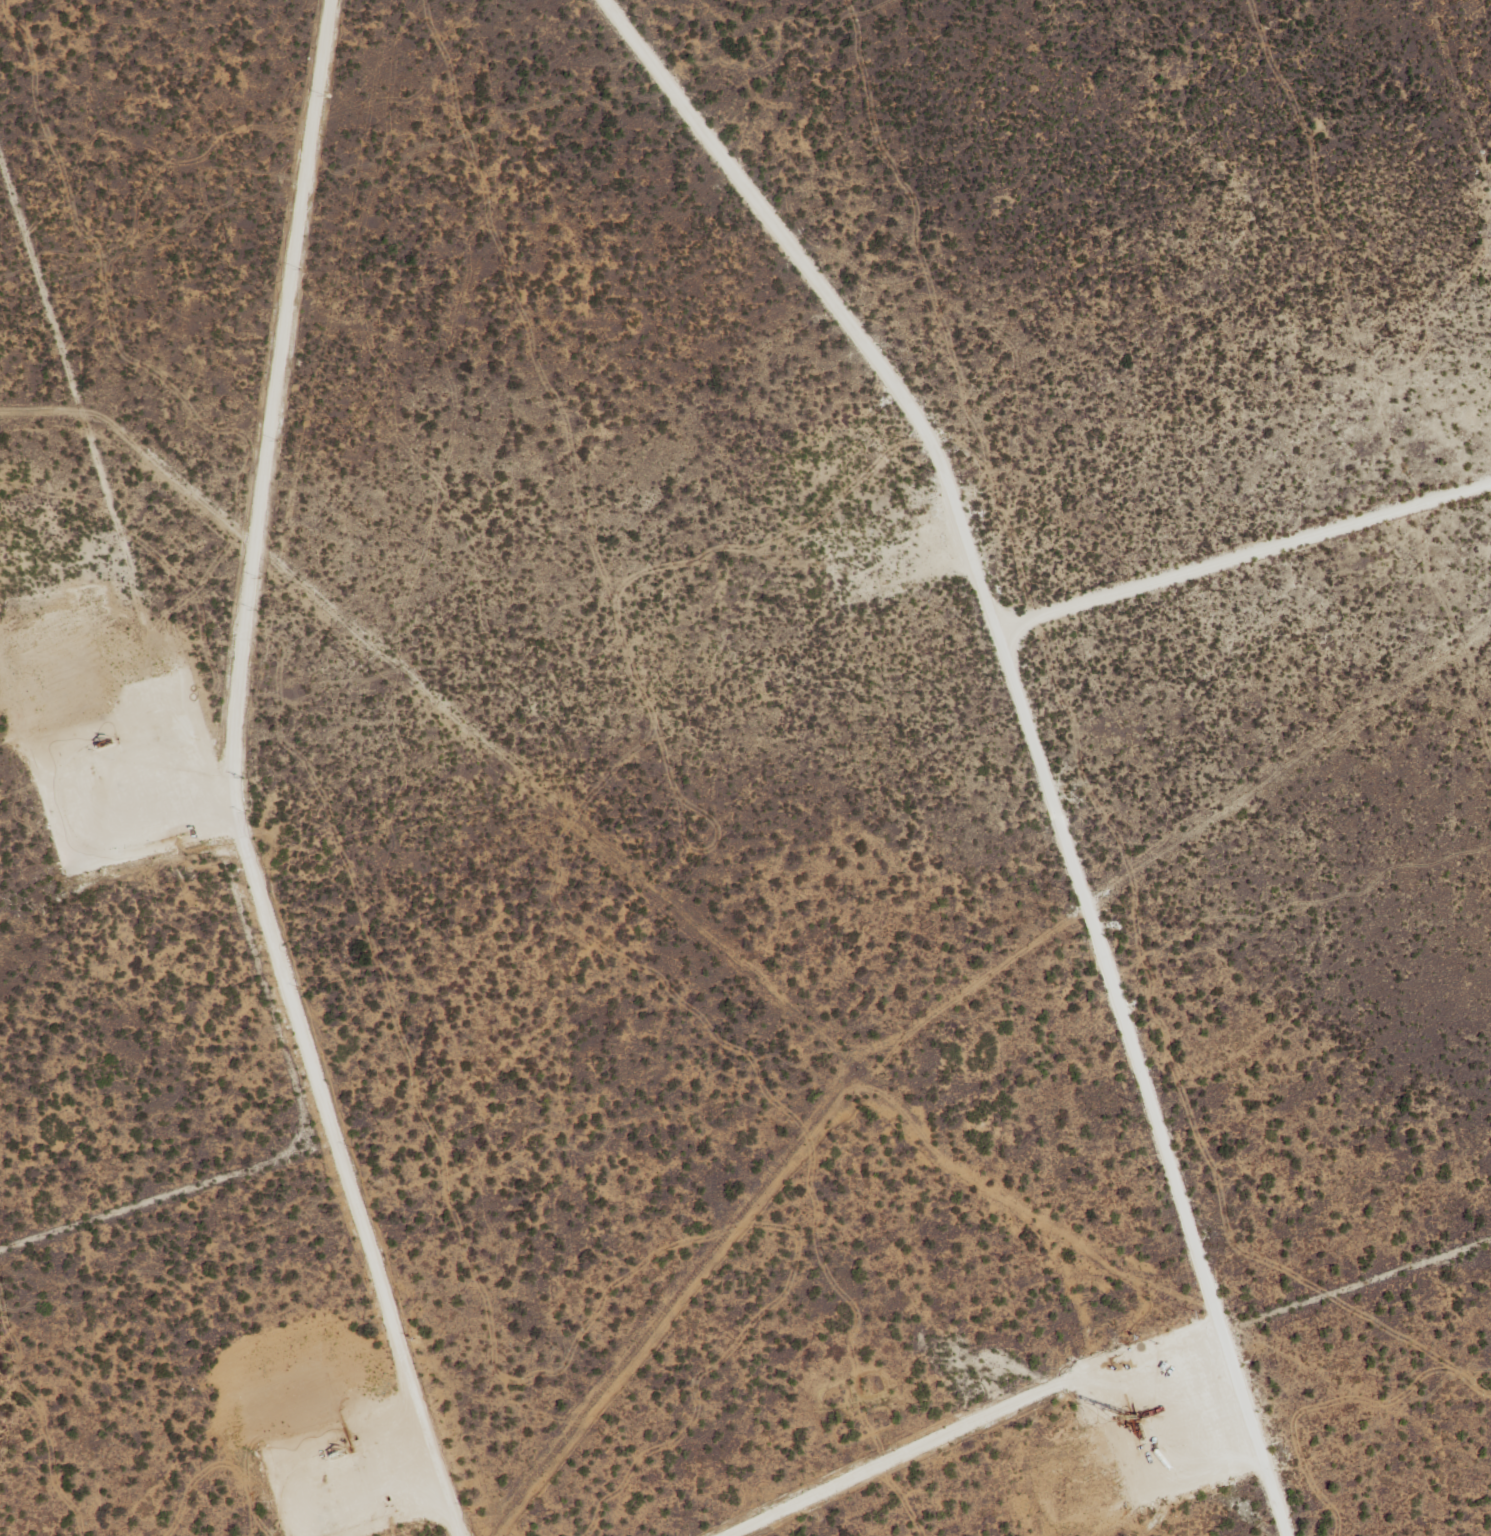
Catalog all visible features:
road: (1039, 727)
road: (225, 765)
road: (1370, 1291)

